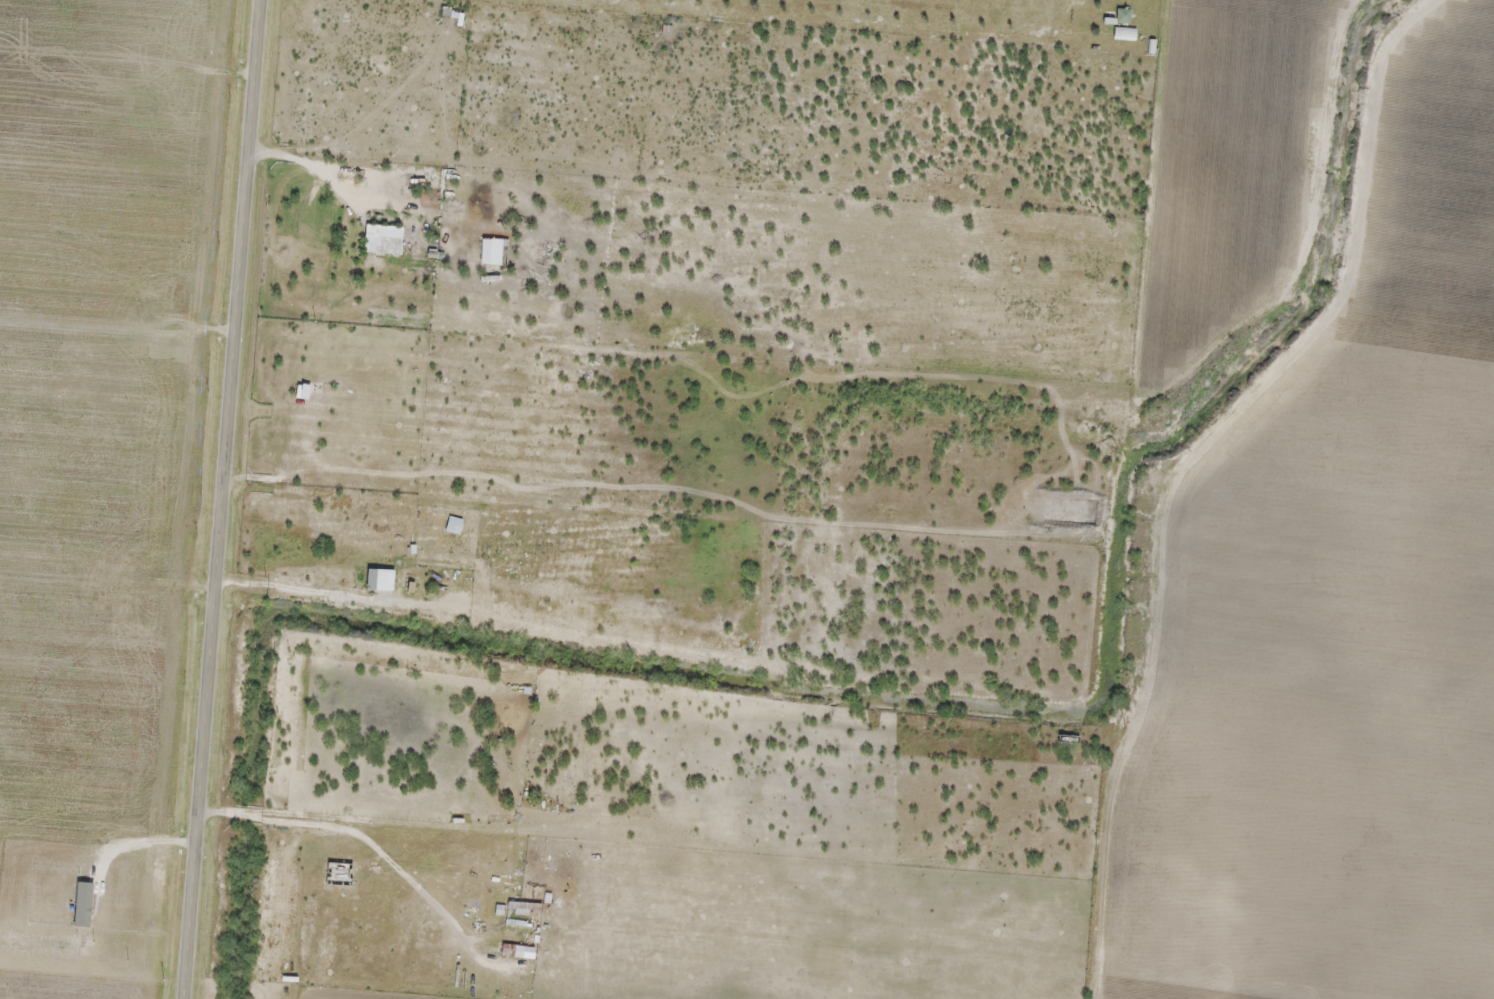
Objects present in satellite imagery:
building: (1124, 15)
building: (1126, 33)
building: (390, 245)
road: (220, 499)
building: (339, 873)
building: (525, 907)
building: (512, 950)

